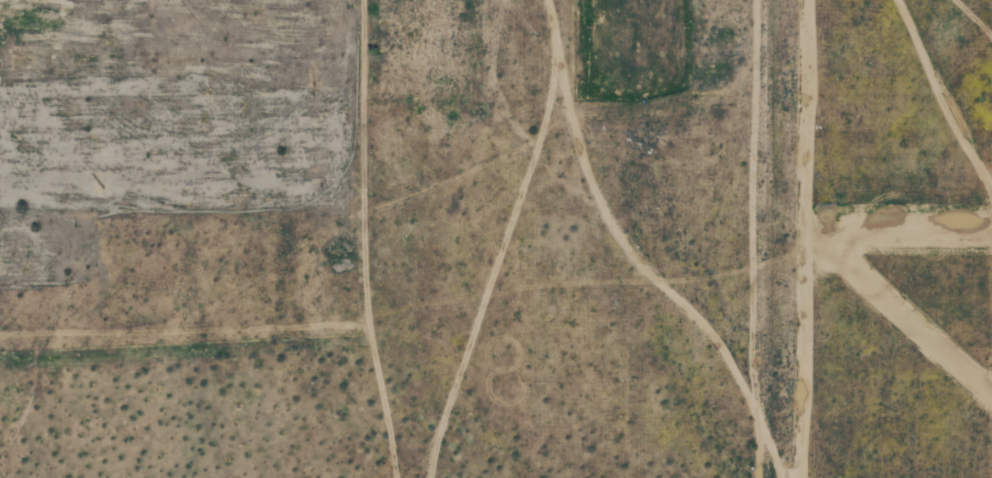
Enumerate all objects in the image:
road: (800, 239)

